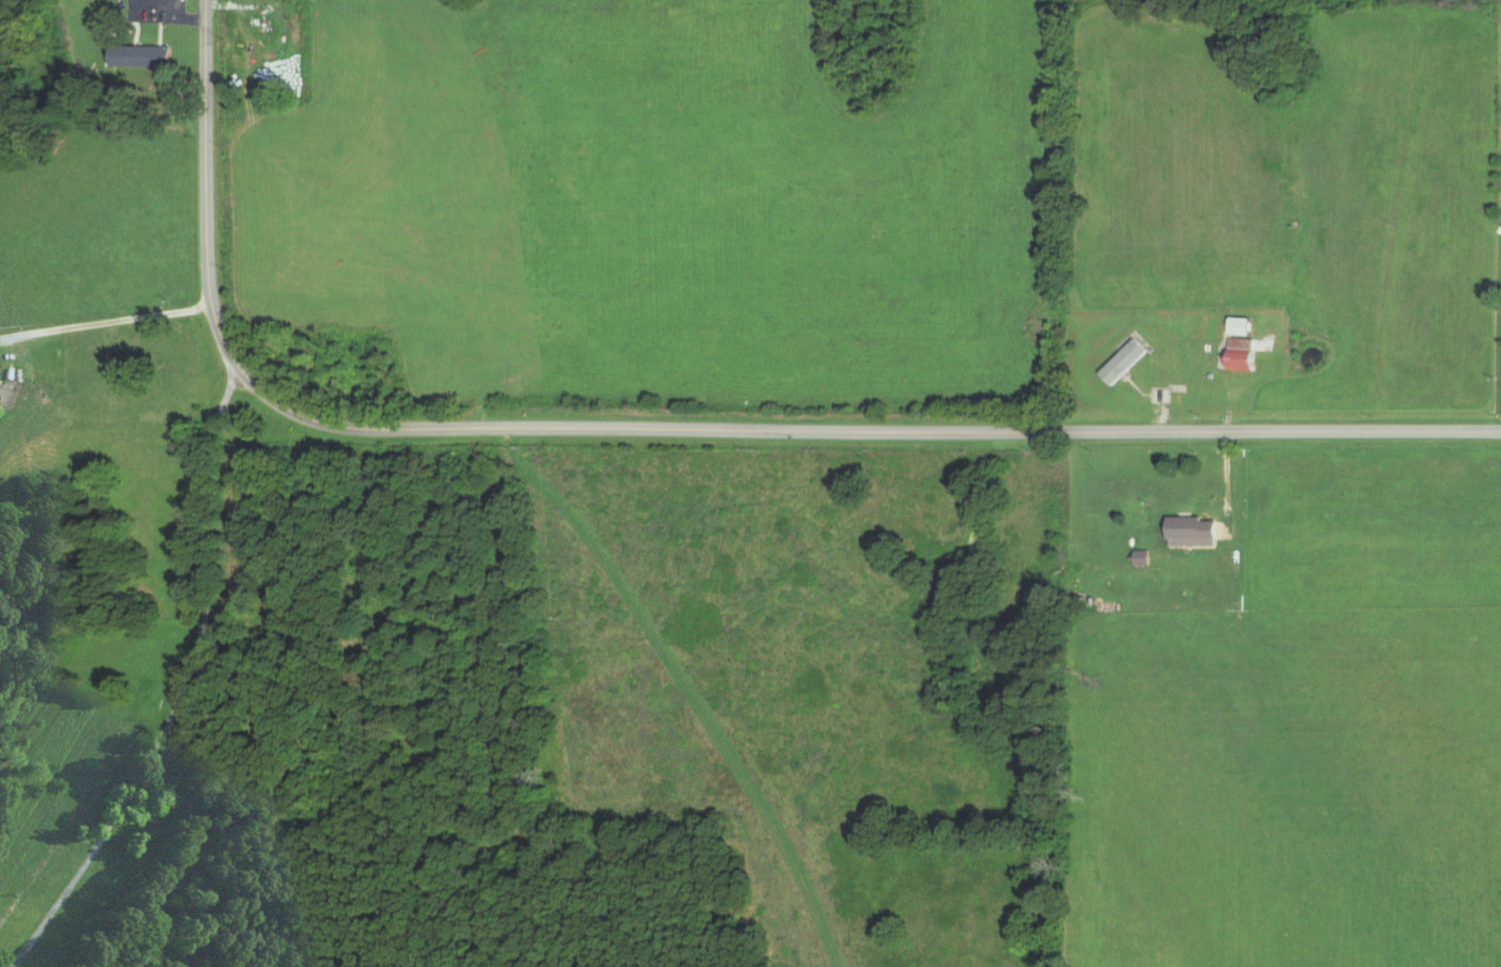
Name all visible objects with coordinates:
road: (205, 42)
building: (144, 56)
road: (105, 318)
building: (1243, 325)
building: (1243, 354)
building: (1125, 361)
road: (1225, 390)
road: (716, 426)
road: (1341, 454)
road: (1072, 490)
building: (1195, 531)
road: (186, 685)

